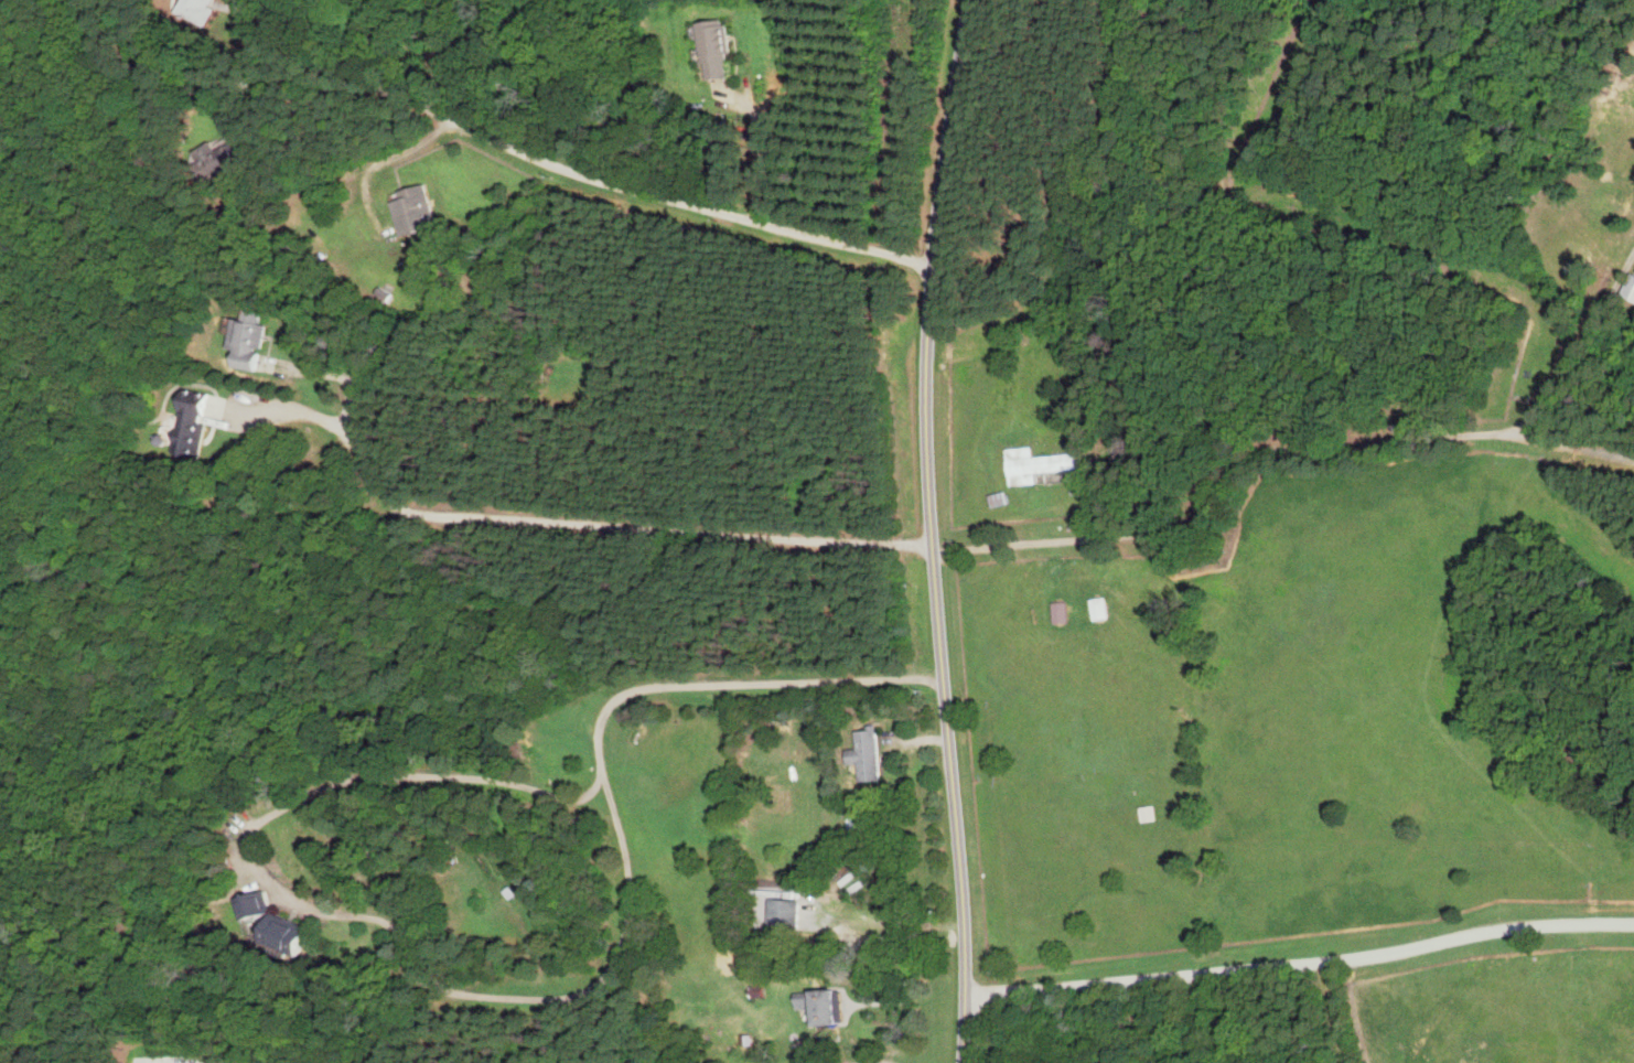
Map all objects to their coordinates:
building: (201, 10)
building: (720, 50)
road: (764, 148)
road: (396, 154)
building: (228, 155)
road: (569, 171)
building: (417, 211)
building: (1626, 288)
building: (254, 341)
building: (195, 423)
road: (1570, 445)
road: (1315, 450)
building: (1032, 464)
road: (573, 528)
road: (932, 530)
building: (1096, 608)
building: (1057, 612)
building: (872, 756)
building: (780, 801)
building: (1143, 814)
building: (787, 915)
building: (272, 922)
road: (1302, 965)
road: (508, 998)
building: (827, 1008)
road: (832, 1037)
road: (880, 1060)
road: (869, 1061)

